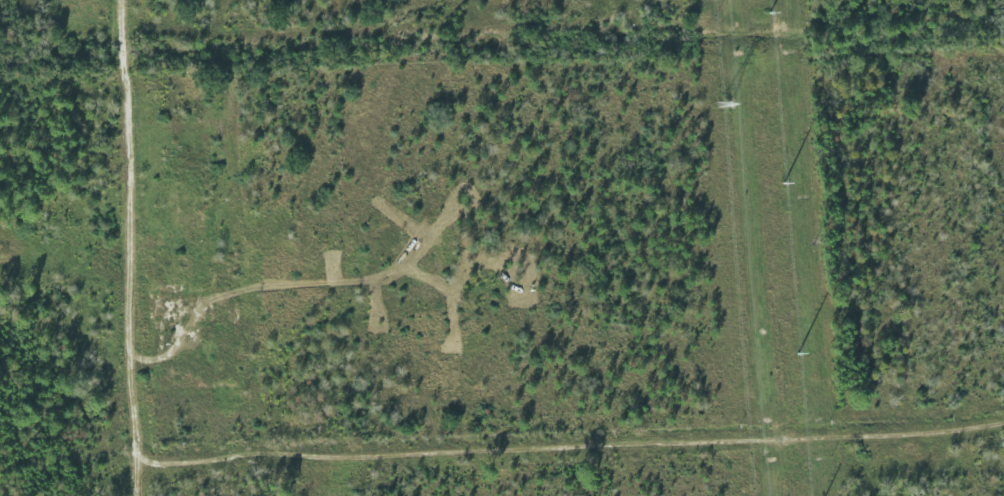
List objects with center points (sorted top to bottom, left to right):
power tower: (724, 99)
road: (130, 247)
road: (569, 445)

